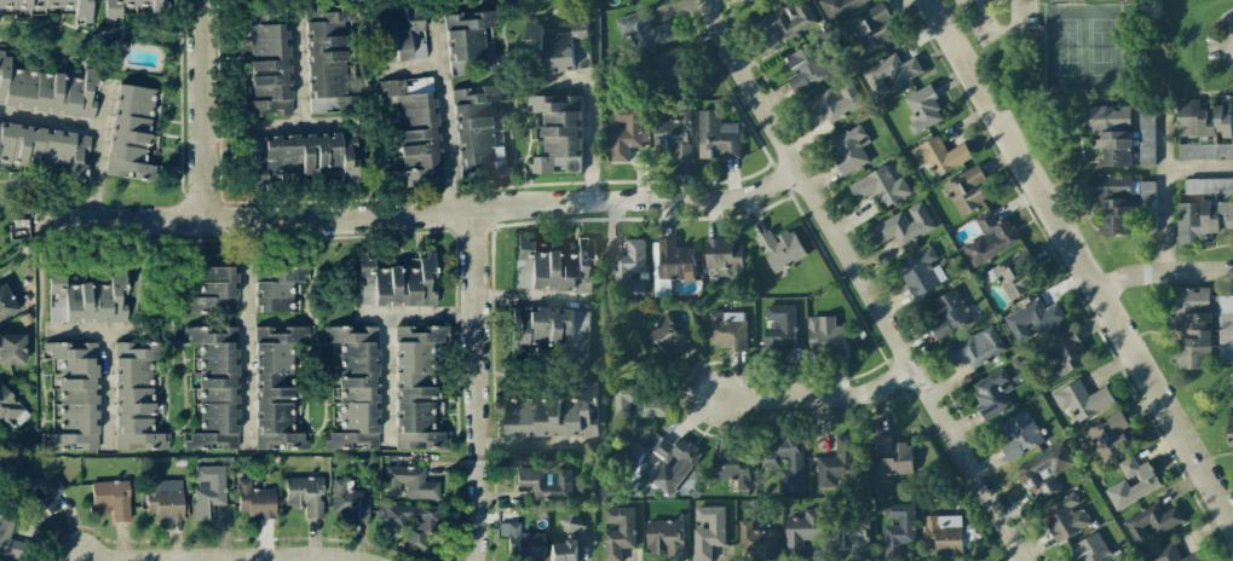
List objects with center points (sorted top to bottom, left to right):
building: (744, 0)
building: (1065, 0)
building: (53, 7)
building: (837, 7)
building: (111, 15)
building: (787, 21)
building: (870, 28)
building: (643, 31)
road: (997, 31)
building: (399, 37)
building: (467, 44)
building: (557, 45)
building: (325, 58)
road: (411, 65)
building: (808, 65)
building: (267, 68)
building: (669, 70)
road: (299, 71)
building: (889, 73)
building: (47, 89)
building: (831, 103)
road: (202, 109)
building: (922, 109)
road: (446, 116)
road: (52, 120)
road: (589, 121)
road: (278, 125)
building: (478, 129)
building: (1204, 129)
building: (624, 131)
building: (129, 133)
building: (557, 133)
building: (1111, 133)
building: (413, 134)
building: (674, 135)
building: (716, 135)
building: (1146, 139)
building: (849, 149)
building: (304, 155)
building: (939, 155)
road: (97, 177)
road: (1199, 180)
building: (880, 186)
building: (1208, 186)
building: (966, 190)
building: (1122, 202)
road: (471, 213)
road: (1166, 221)
building: (1203, 221)
building: (904, 225)
building: (990, 239)
building: (779, 249)
building: (724, 258)
building: (675, 261)
road: (1079, 261)
building: (553, 267)
building: (628, 268)
building: (922, 273)
road: (1130, 276)
building: (1013, 277)
building: (396, 280)
road: (864, 280)
building: (275, 287)
building: (214, 291)
road: (529, 297)
building: (87, 299)
road: (145, 313)
building: (947, 313)
building: (1032, 319)
building: (779, 325)
building: (1200, 326)
building: (548, 329)
road: (246, 330)
building: (726, 330)
road: (382, 331)
building: (825, 336)
building: (663, 337)
building: (976, 347)
building: (11, 348)
building: (1065, 352)
road: (530, 354)
road: (106, 386)
building: (356, 386)
building: (214, 387)
building: (276, 387)
road: (479, 387)
building: (417, 388)
building: (991, 393)
building: (74, 395)
building: (136, 395)
road: (819, 398)
building: (1232, 398)
building: (1082, 399)
building: (640, 401)
building: (8, 410)
building: (552, 415)
building: (1229, 432)
building: (1019, 434)
building: (1108, 438)
road: (532, 445)
building: (676, 455)
building: (891, 456)
building: (770, 462)
building: (836, 463)
building: (731, 465)
building: (1044, 472)
building: (409, 482)
building: (1131, 482)
building: (545, 484)
building: (208, 490)
building: (51, 493)
building: (305, 495)
building: (110, 499)
building: (163, 499)
building: (254, 501)
building: (347, 501)
building: (1065, 516)
building: (410, 521)
building: (1151, 521)
building: (569, 522)
building: (897, 527)
building: (802, 530)
building: (708, 531)
building: (617, 534)
building: (943, 534)
building: (7, 537)
building: (852, 537)
building: (664, 538)
building: (755, 542)
building: (524, 544)
building: (1091, 549)
building: (563, 551)
building: (1170, 554)
road: (229, 559)
road: (280, 560)

